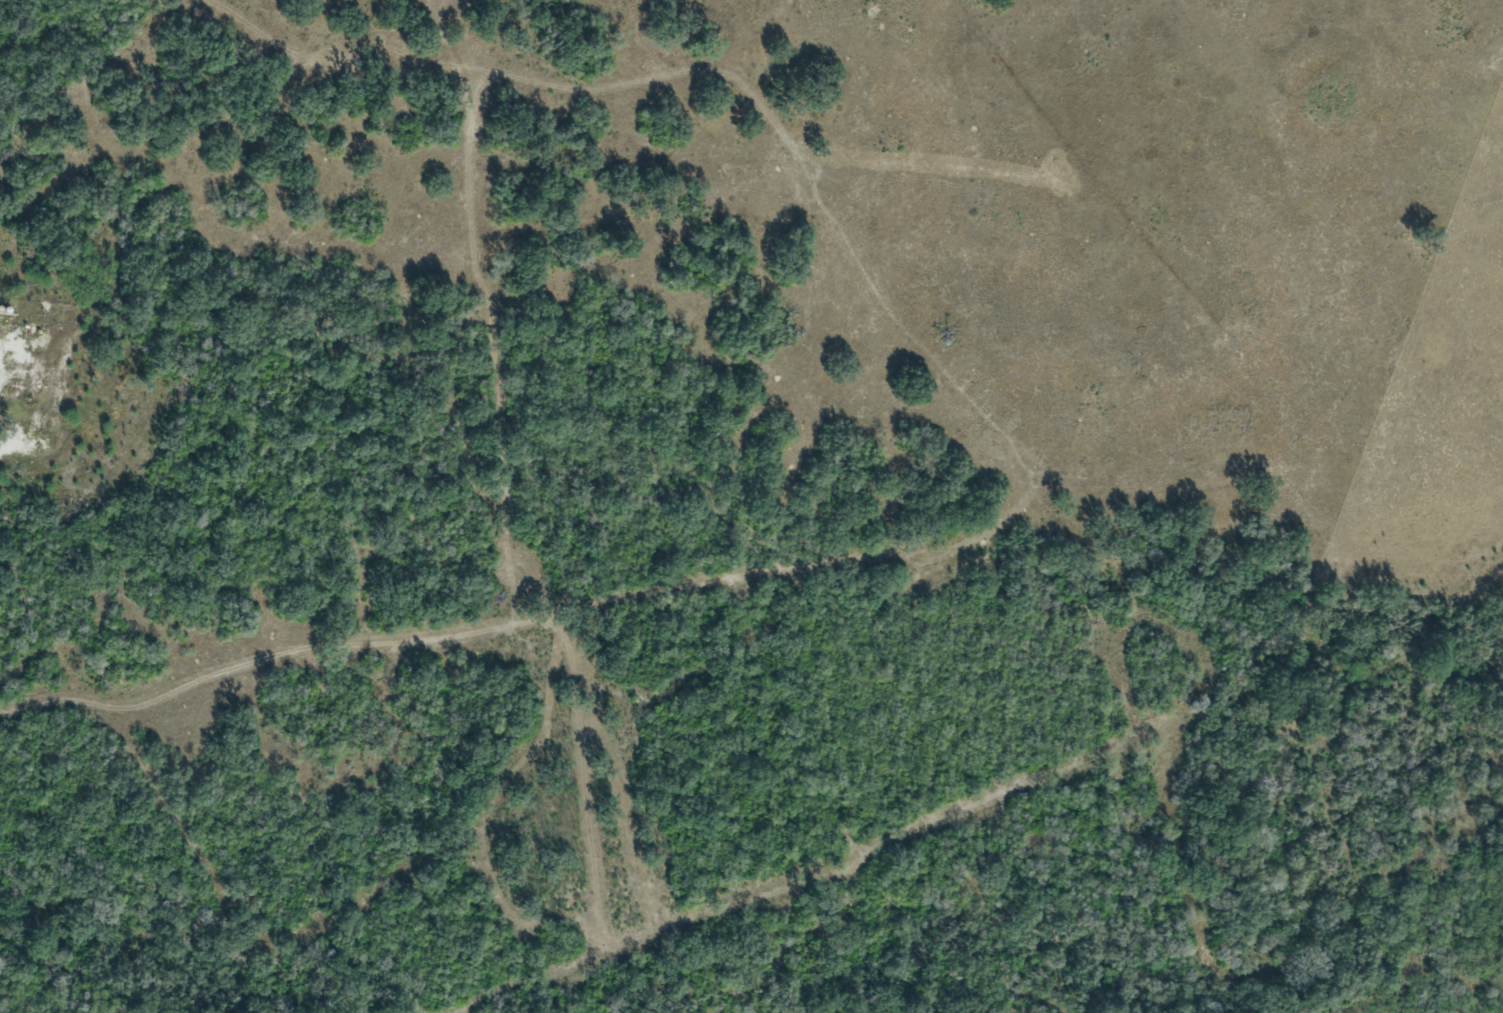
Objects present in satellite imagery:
road: (22, 448)

